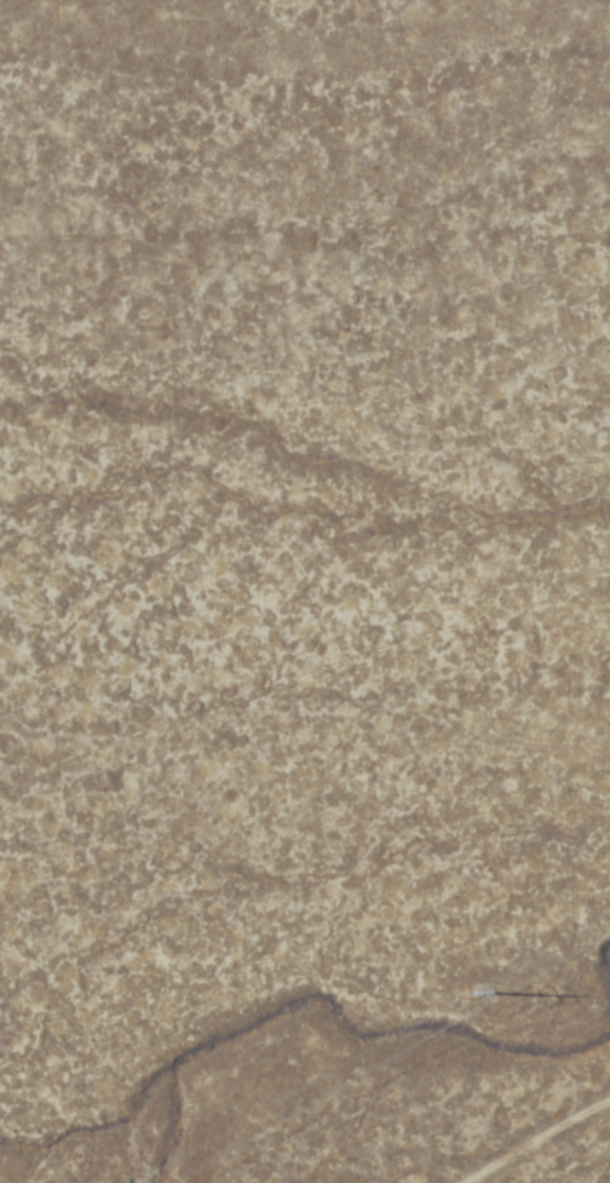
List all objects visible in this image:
power tower: (476, 993)

